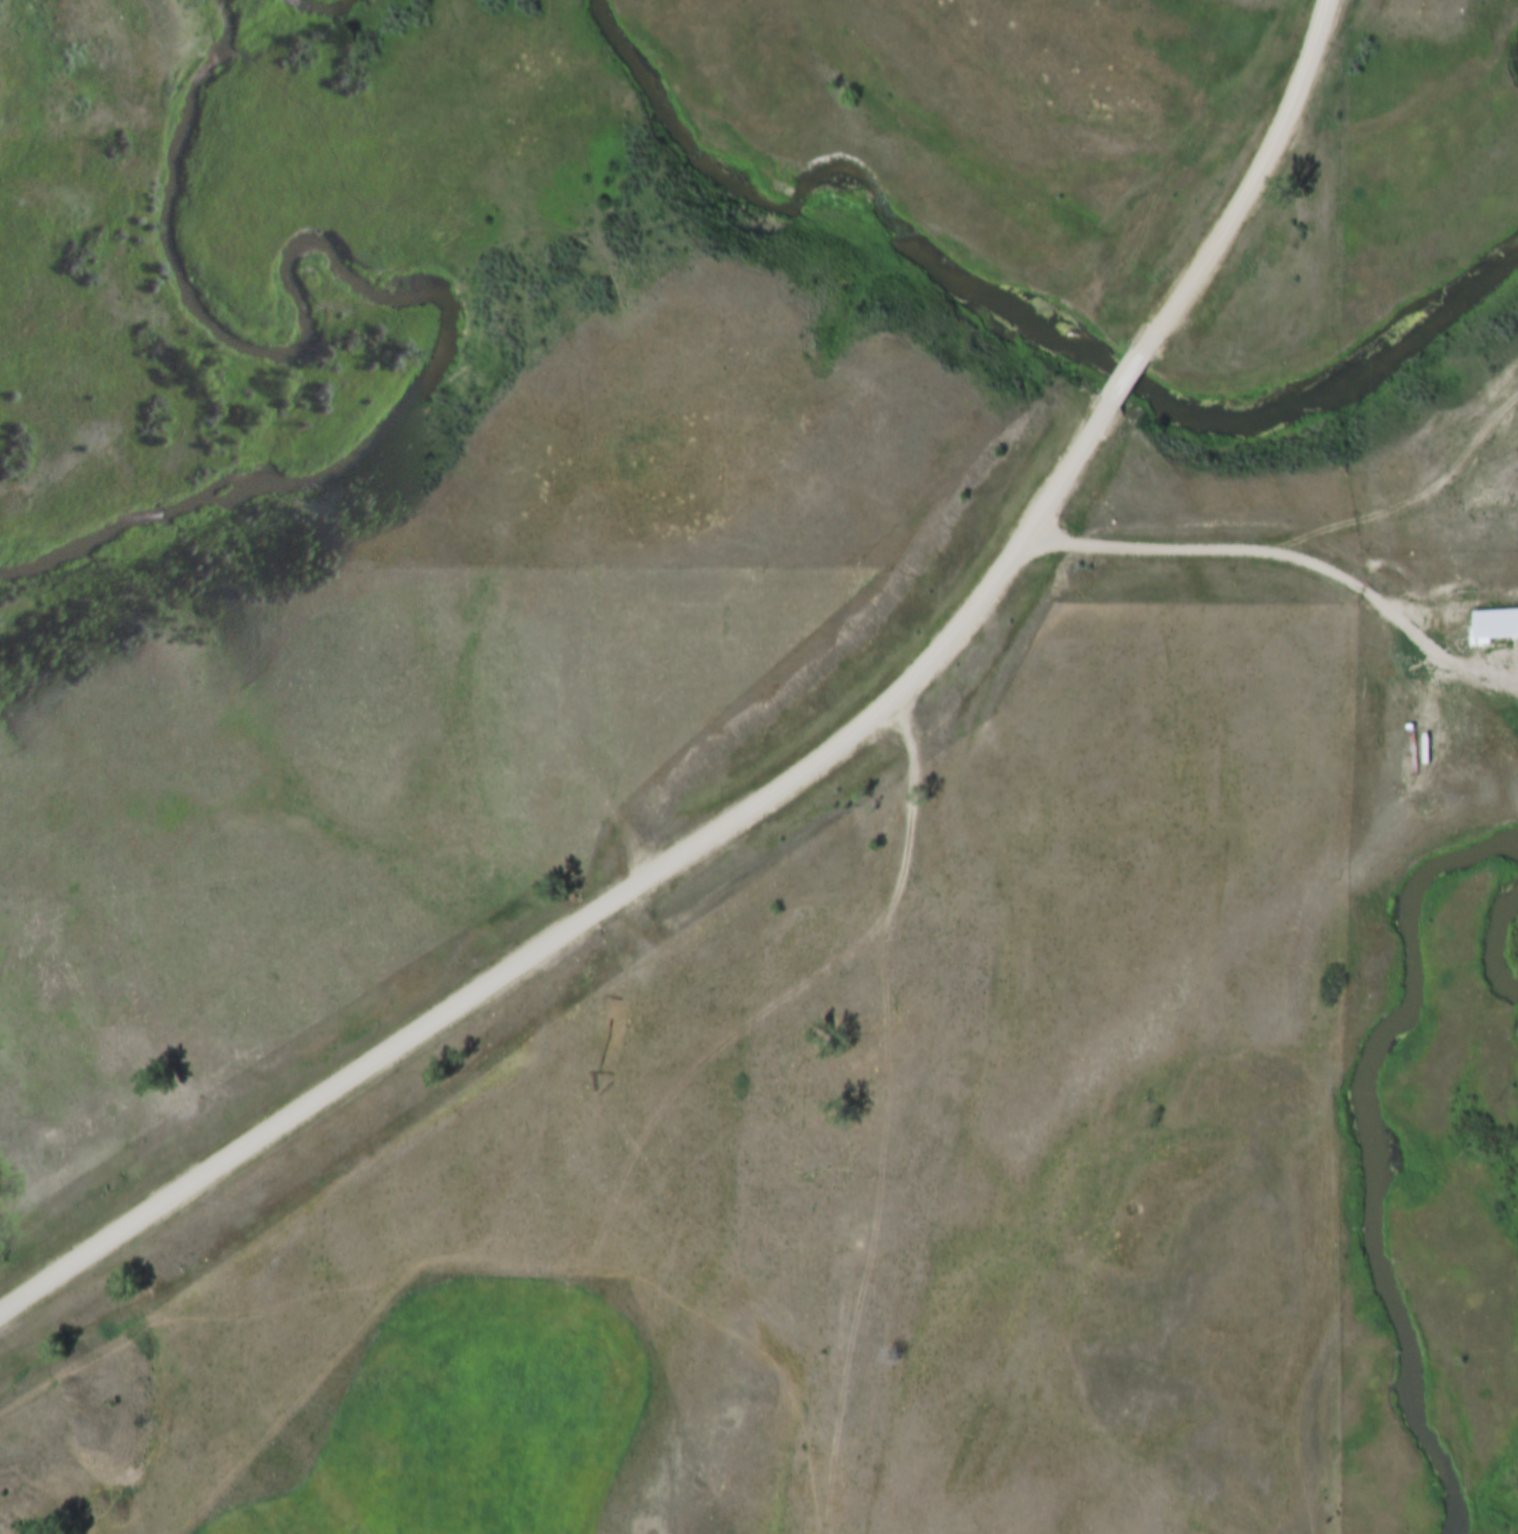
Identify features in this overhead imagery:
road: (1249, 186)
road: (1126, 382)
road: (1071, 465)
road: (1419, 507)
road: (1287, 554)
building: (1494, 618)
road: (542, 947)

